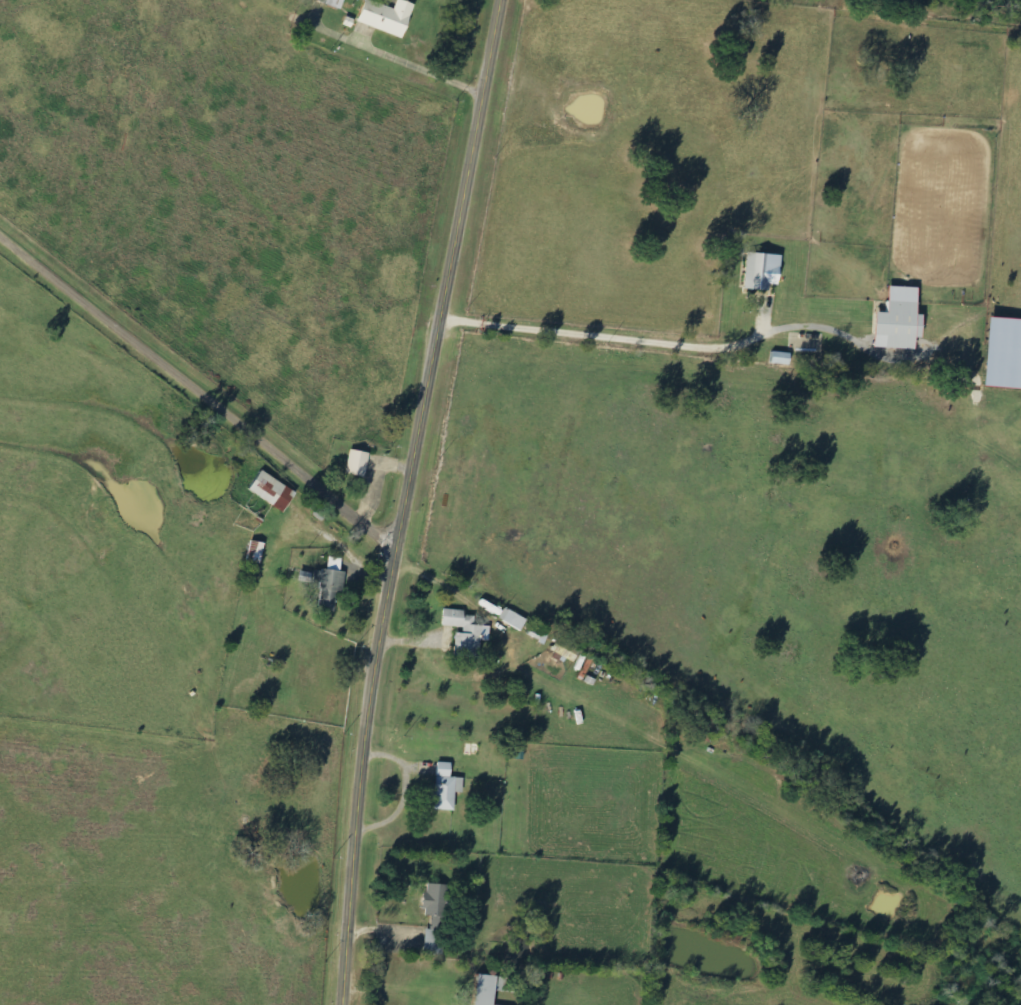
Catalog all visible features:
building: (334, 3)
building: (388, 17)
building: (758, 271)
building: (893, 320)
road: (599, 339)
building: (777, 358)
road: (198, 393)
building: (355, 463)
building: (268, 490)
road: (406, 500)
building: (327, 585)
building: (510, 619)
building: (464, 632)
building: (561, 651)
building: (582, 666)
building: (443, 787)
building: (432, 899)

